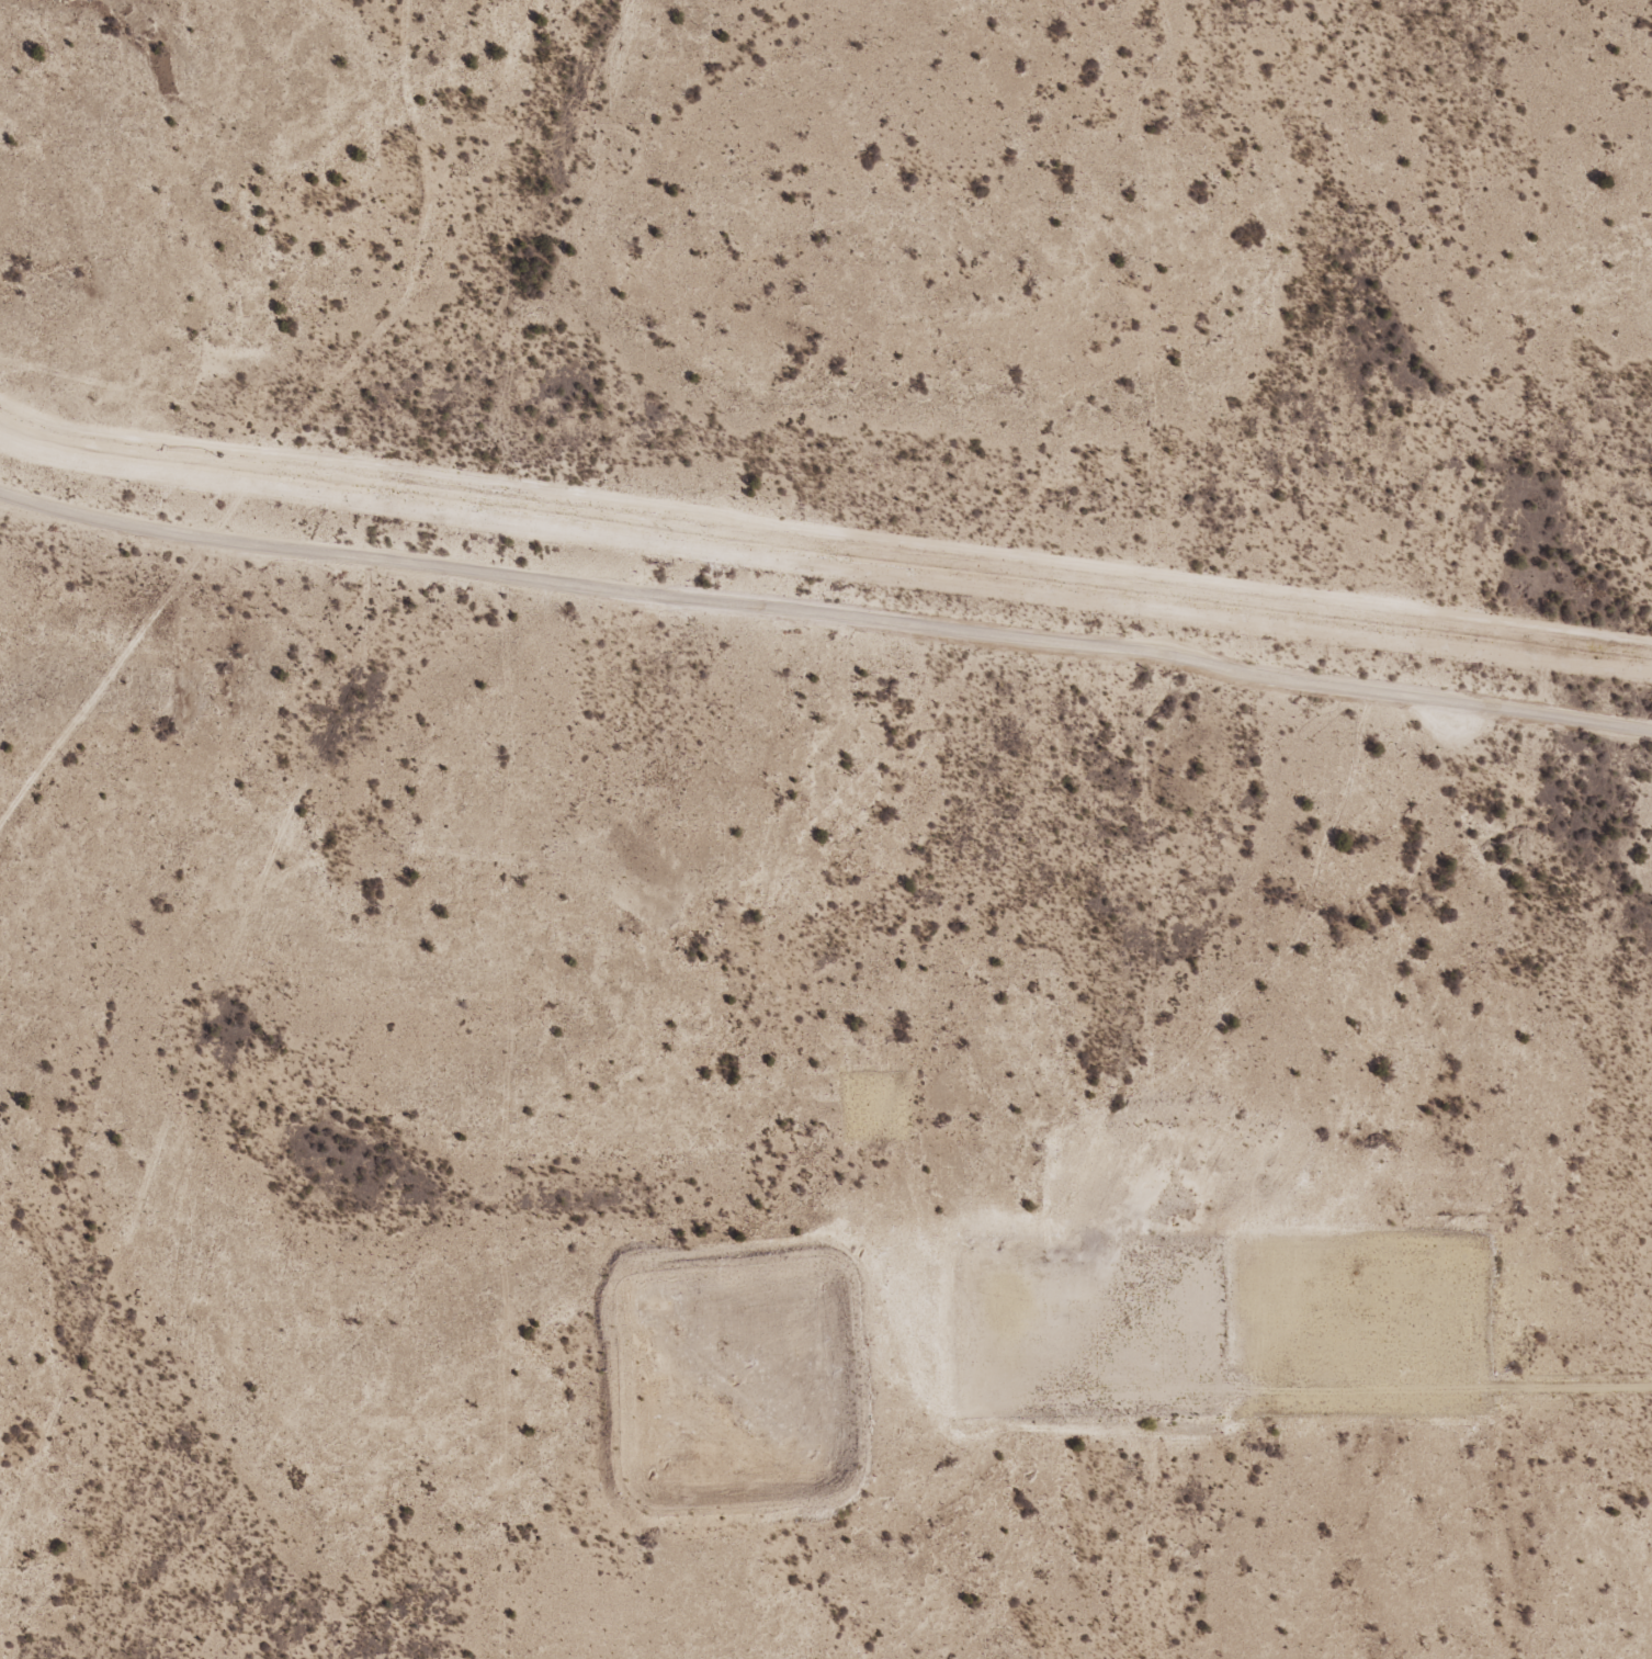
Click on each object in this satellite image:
road: (808, 494)
road: (201, 961)

